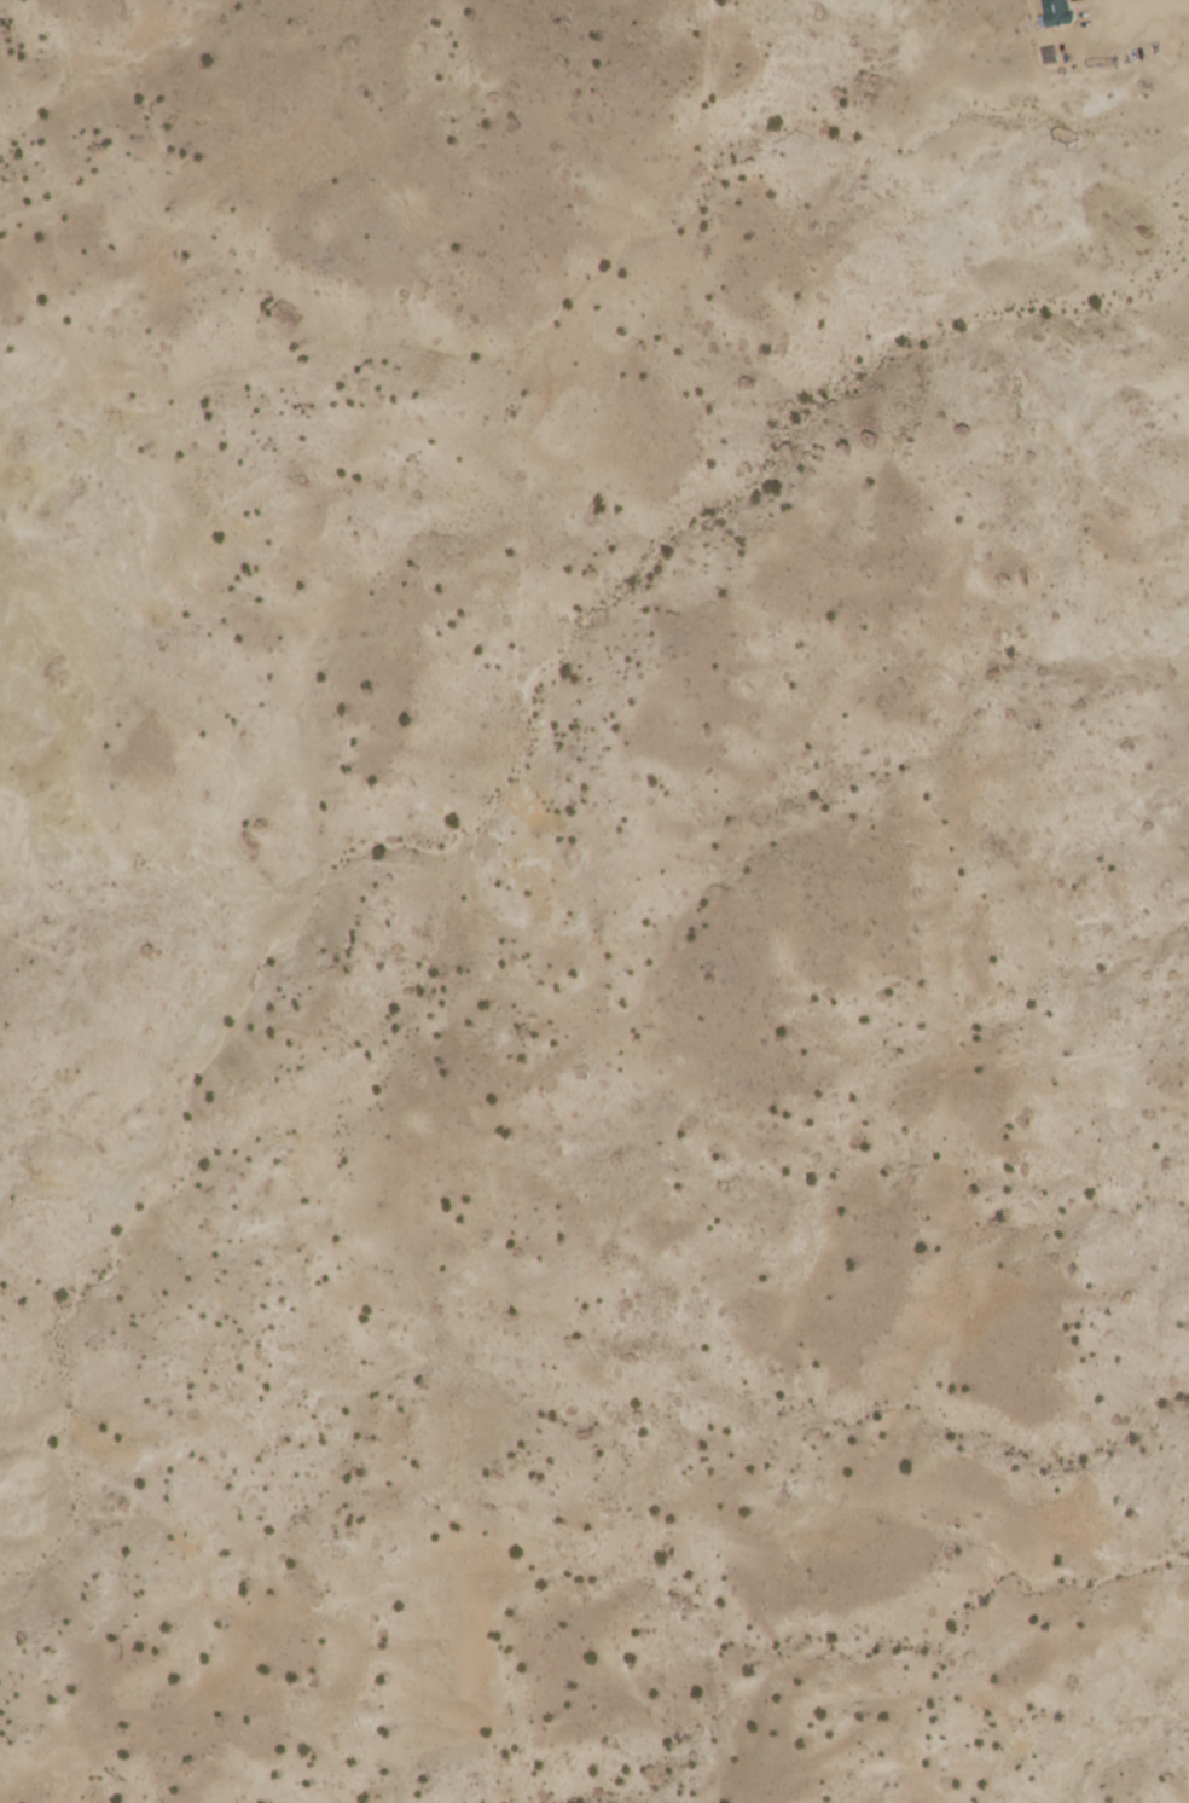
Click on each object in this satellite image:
building: (1056, 12)

